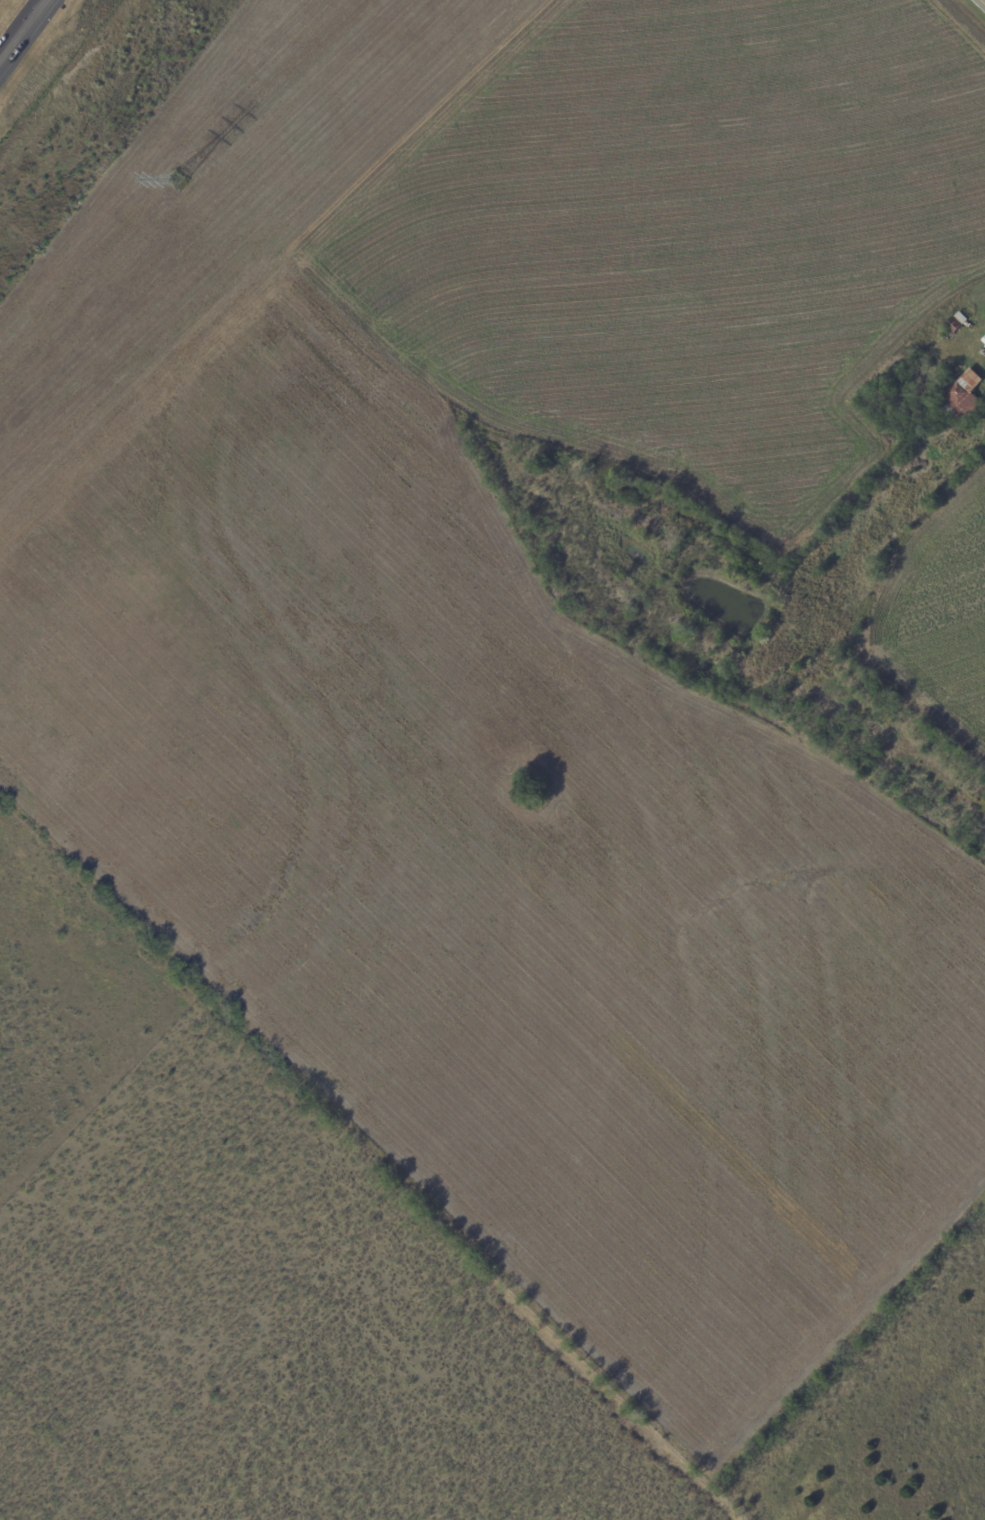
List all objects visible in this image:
road: (979, 4)
road: (976, 9)
road: (27, 22)
road: (6, 51)
power tower: (177, 178)
building: (956, 323)
building: (984, 341)
building: (883, 393)
building: (963, 399)
building: (903, 425)

